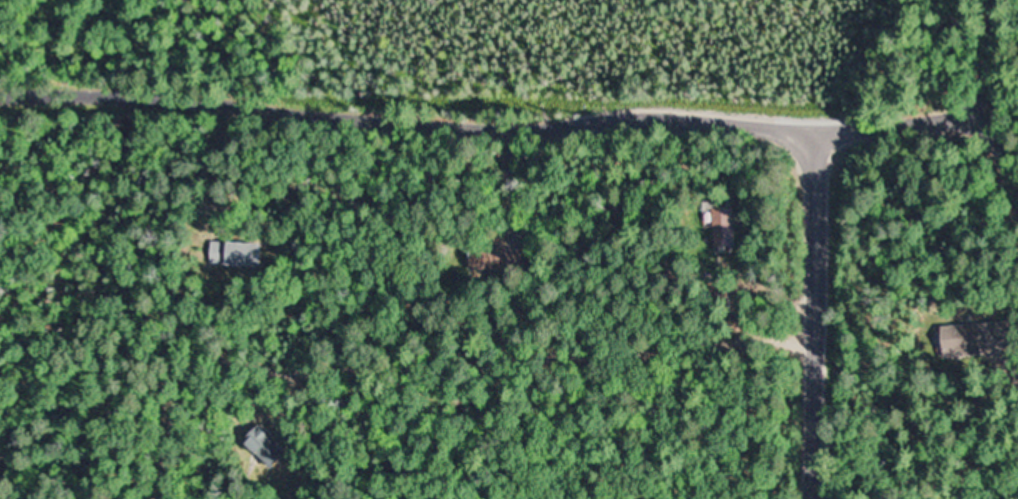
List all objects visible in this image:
road: (995, 93)
road: (500, 125)
building: (721, 225)
building: (235, 254)
building: (491, 259)
road: (815, 313)
building: (262, 444)

